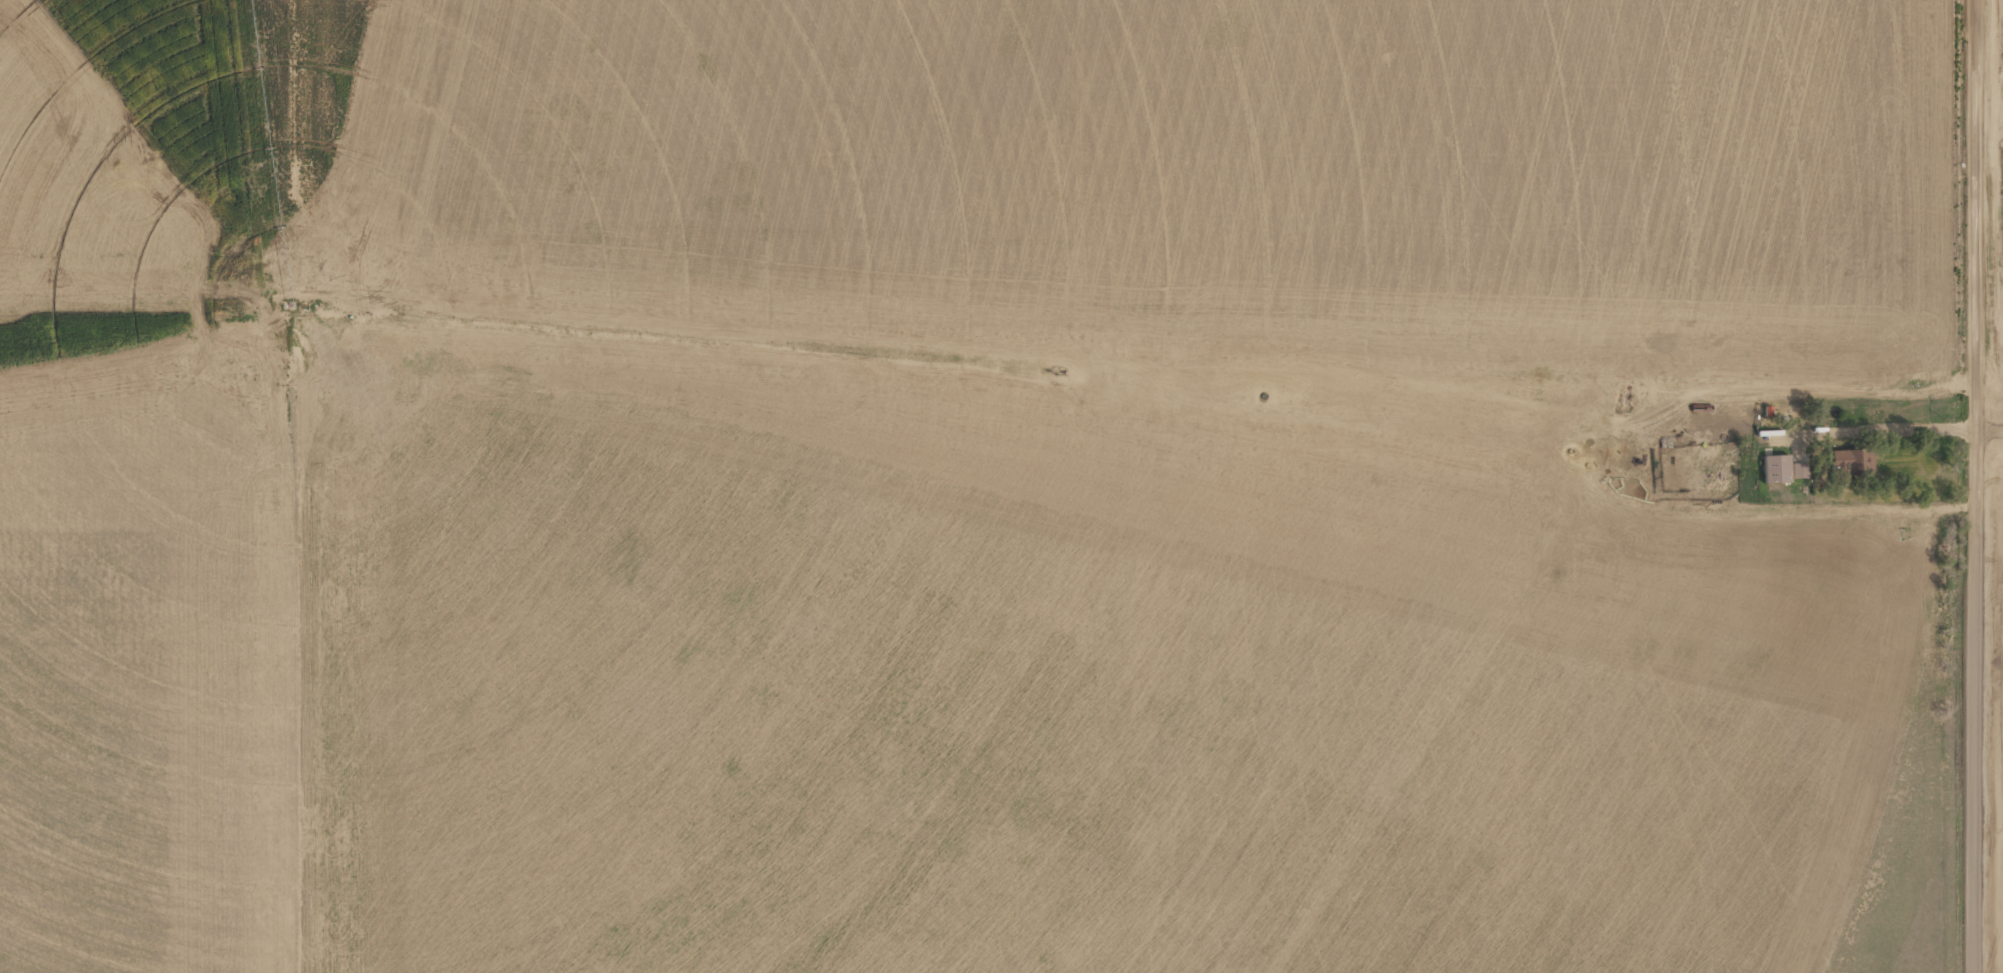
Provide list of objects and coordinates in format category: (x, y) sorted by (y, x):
road: (1974, 486)

